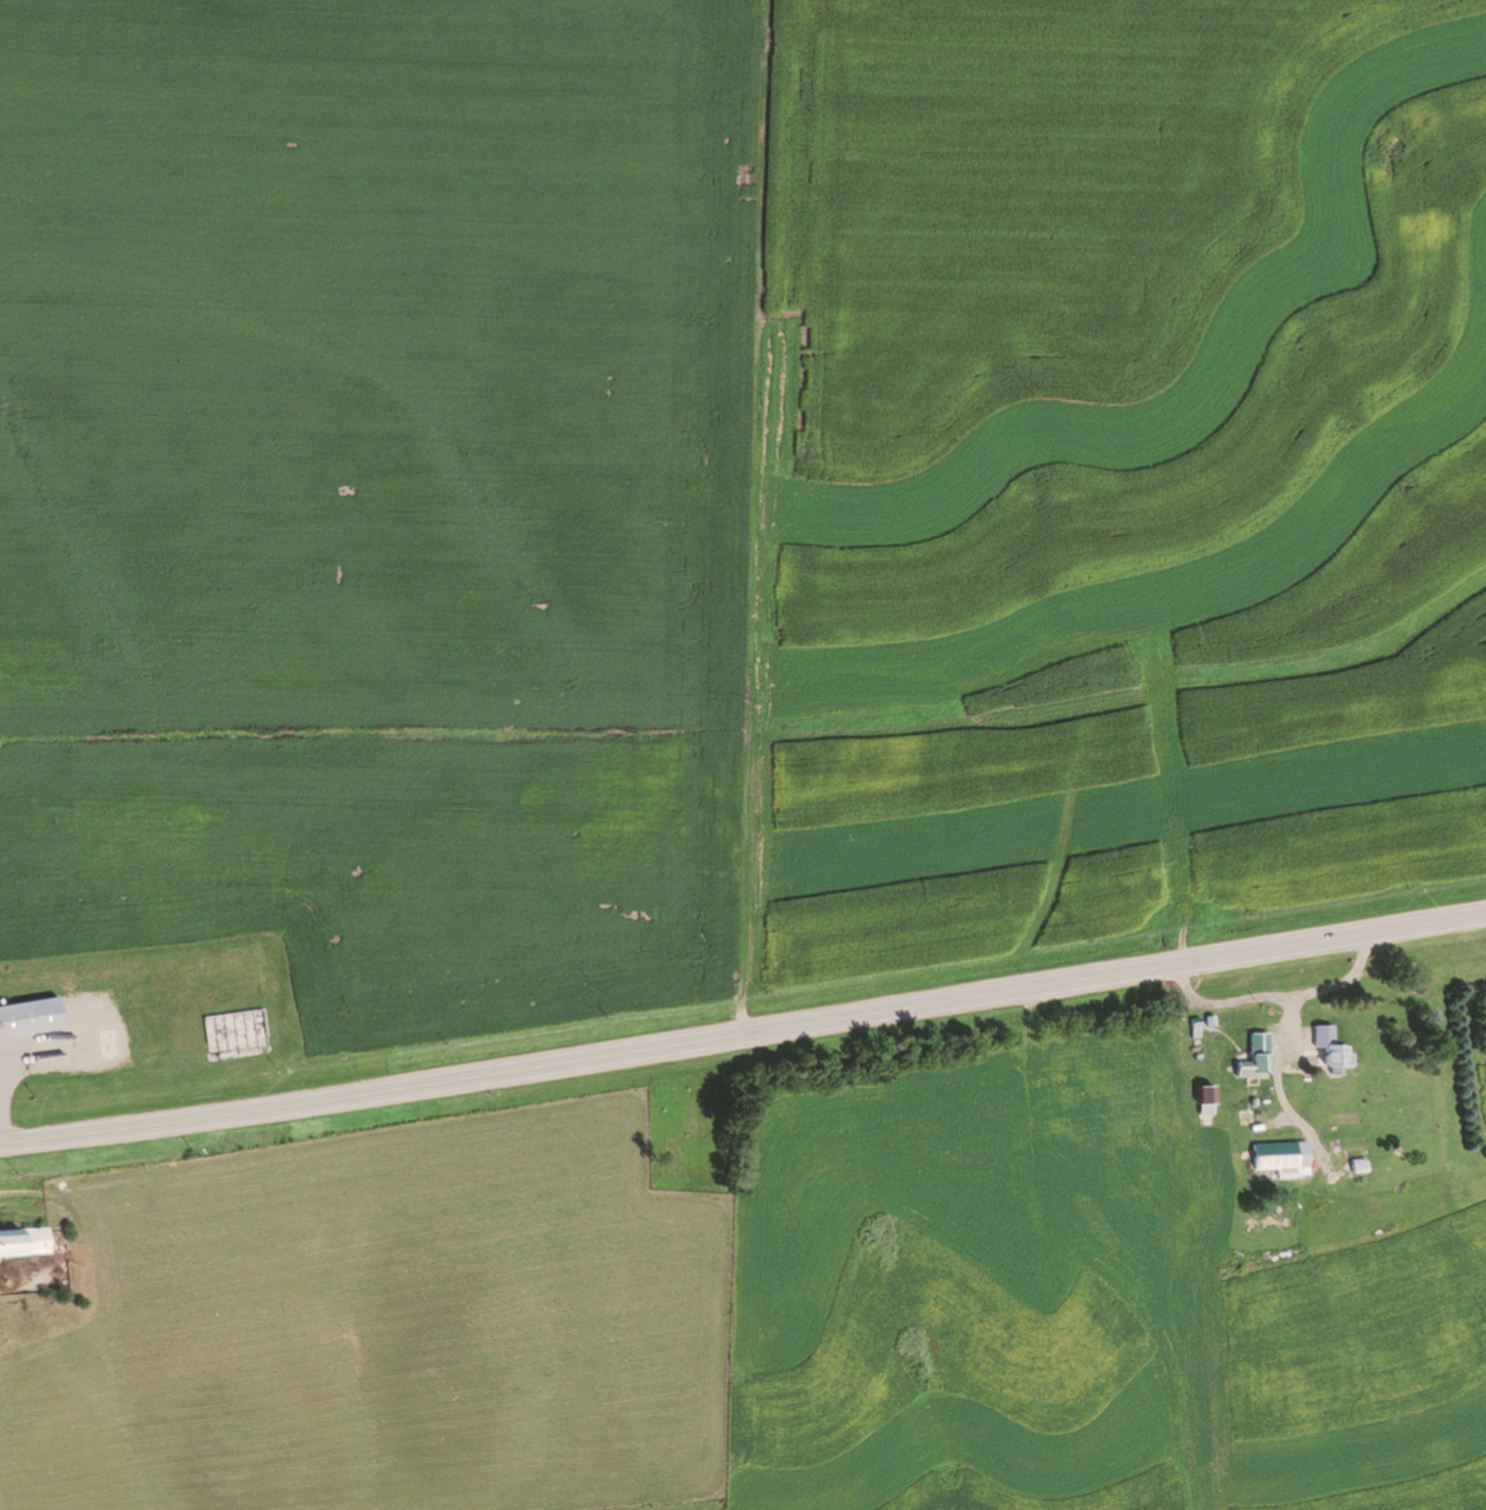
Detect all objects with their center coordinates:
building: (77, 992)
building: (118, 997)
building: (29, 1018)
building: (210, 1026)
road: (743, 1035)
building: (108, 1038)
building: (142, 1040)
building: (1337, 1056)
building: (1255, 1058)
building: (1207, 1101)
building: (1224, 1124)
park: (688, 1127)
building: (1281, 1156)
building: (1203, 1168)
building: (24, 1243)

